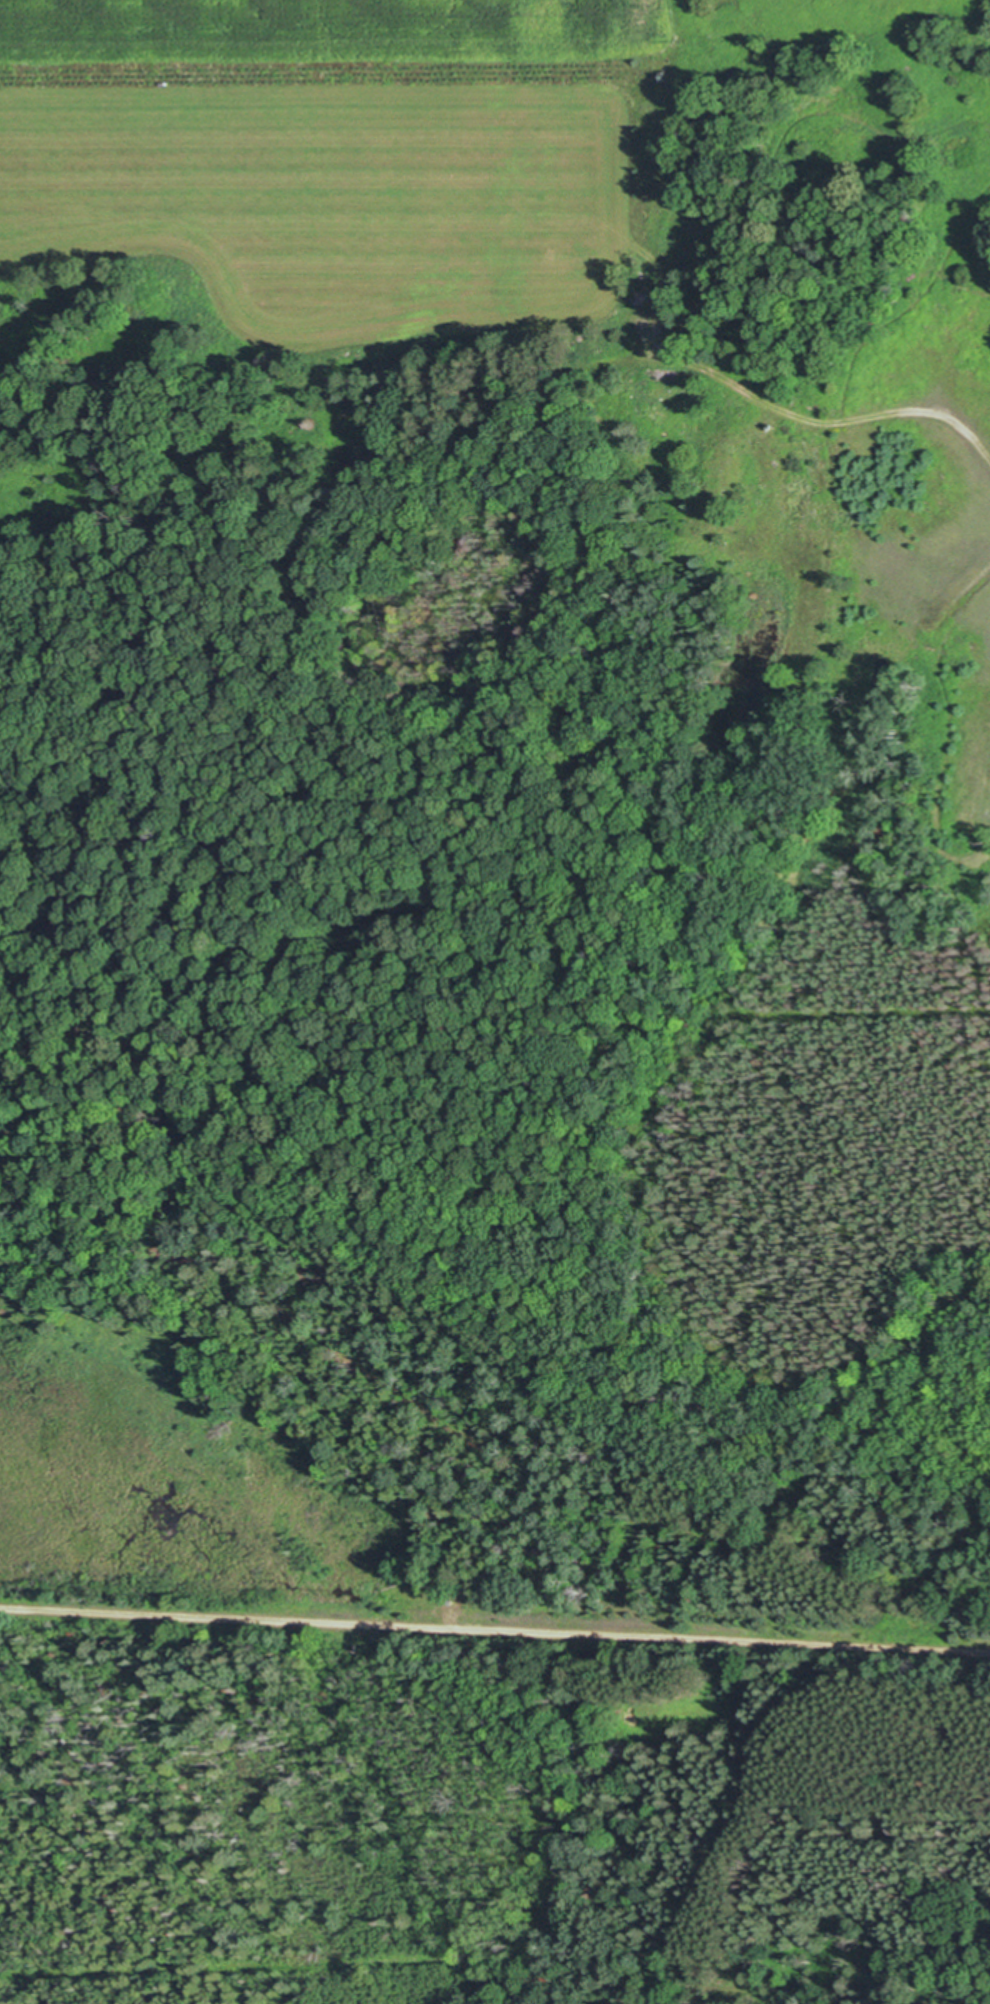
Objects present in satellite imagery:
road: (495, 1631)

